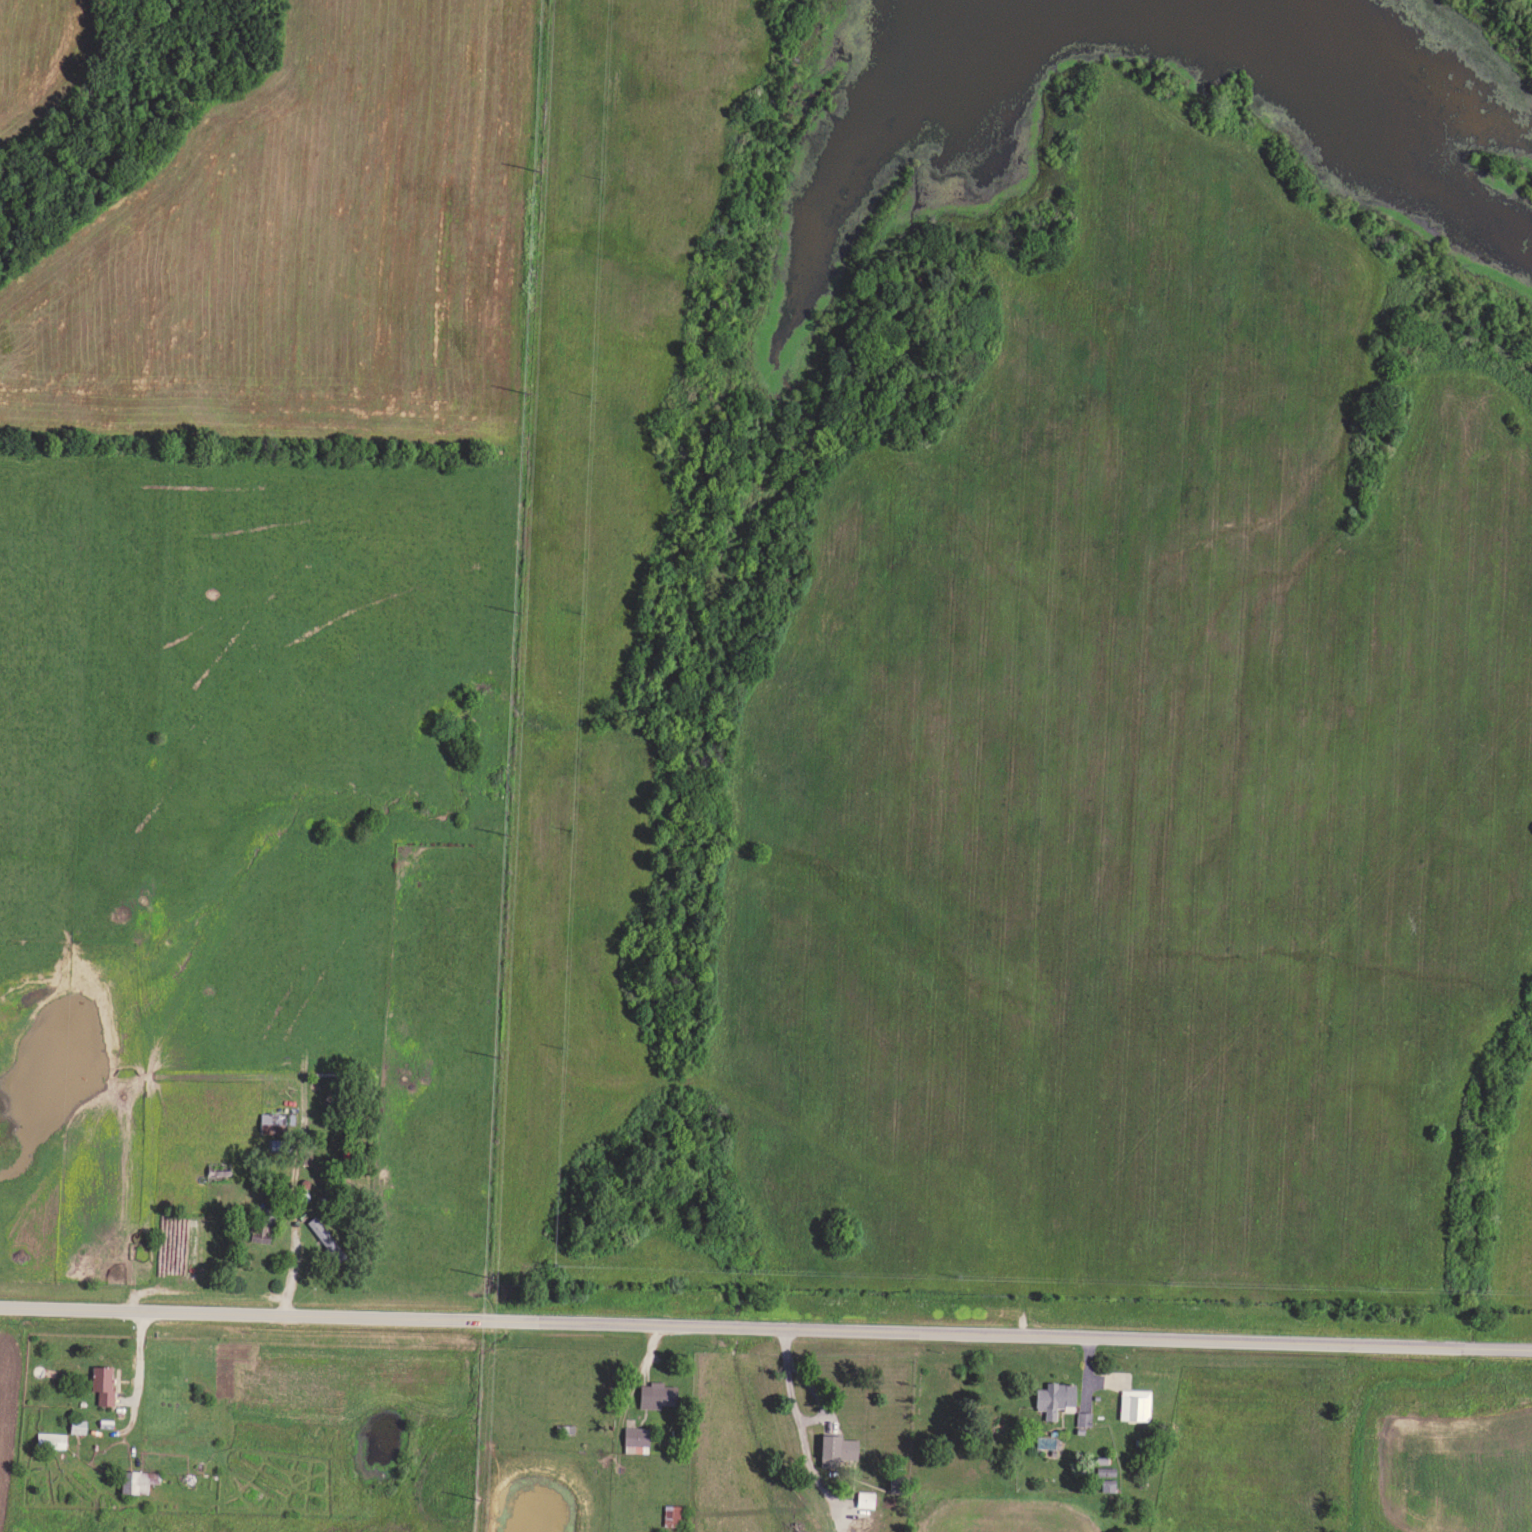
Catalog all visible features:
power tower: (538, 166)
power tower: (528, 391)
power tower: (519, 608)
power tower: (512, 829)
power tower: (499, 1053)
road: (299, 1231)
building: (328, 1237)
power tower: (489, 1274)
road: (766, 1325)
road: (143, 1376)
building: (106, 1383)
building: (660, 1393)
building: (1052, 1396)
building: (1132, 1402)
building: (1082, 1417)
road: (624, 1418)
road: (806, 1432)
building: (638, 1437)
building: (54, 1438)
building: (833, 1447)
building: (140, 1480)
power tower: (479, 1496)
building: (862, 1497)
building: (675, 1513)

